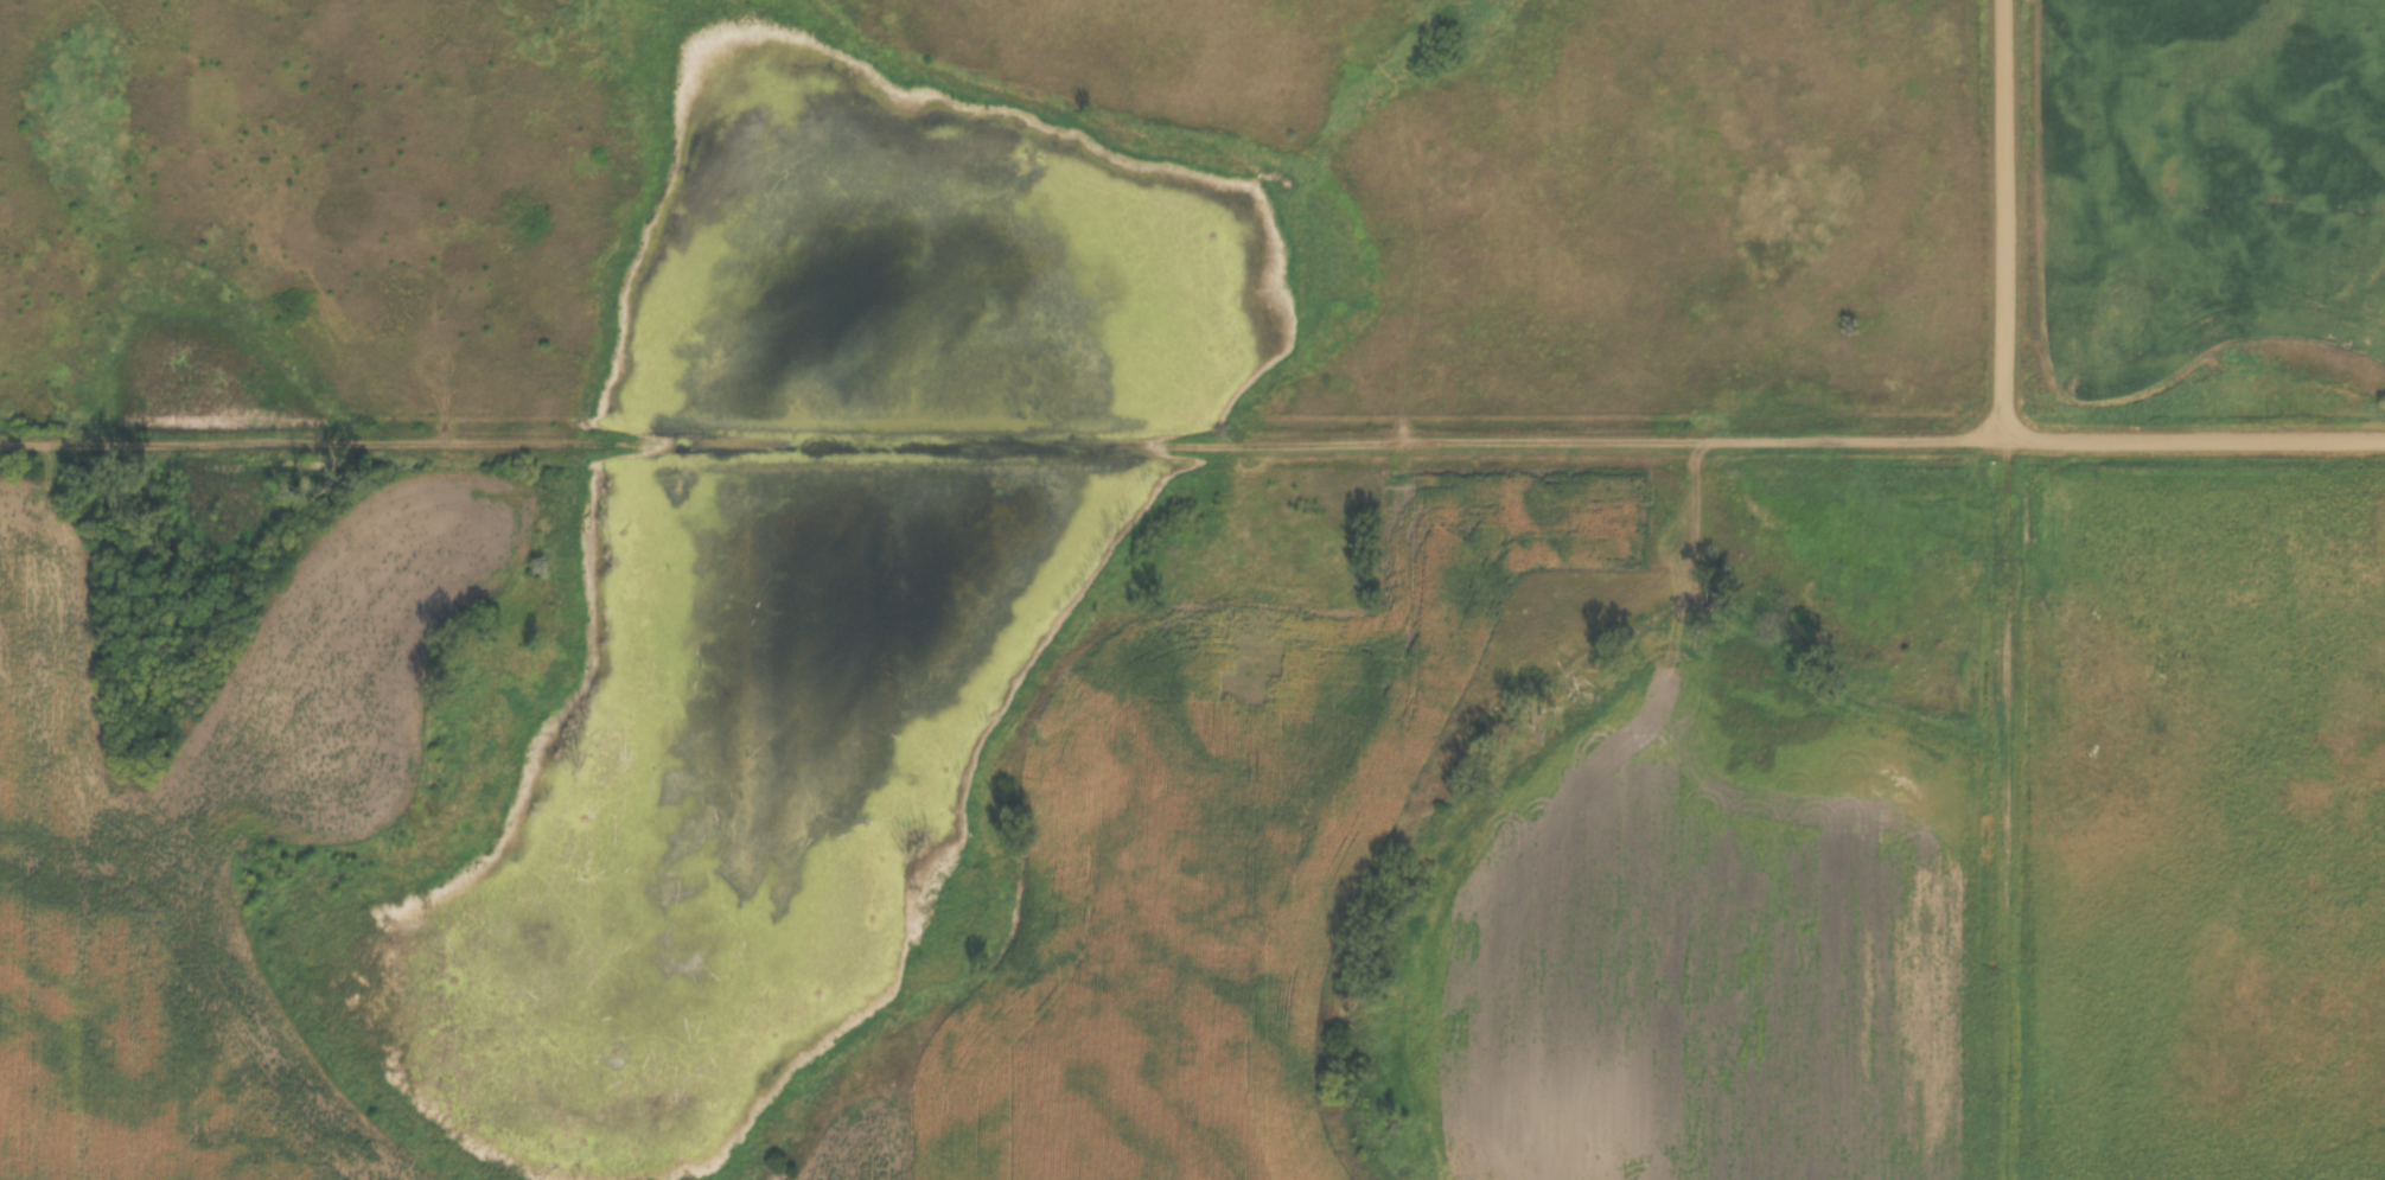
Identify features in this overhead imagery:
road: (2003, 223)
road: (1192, 449)

